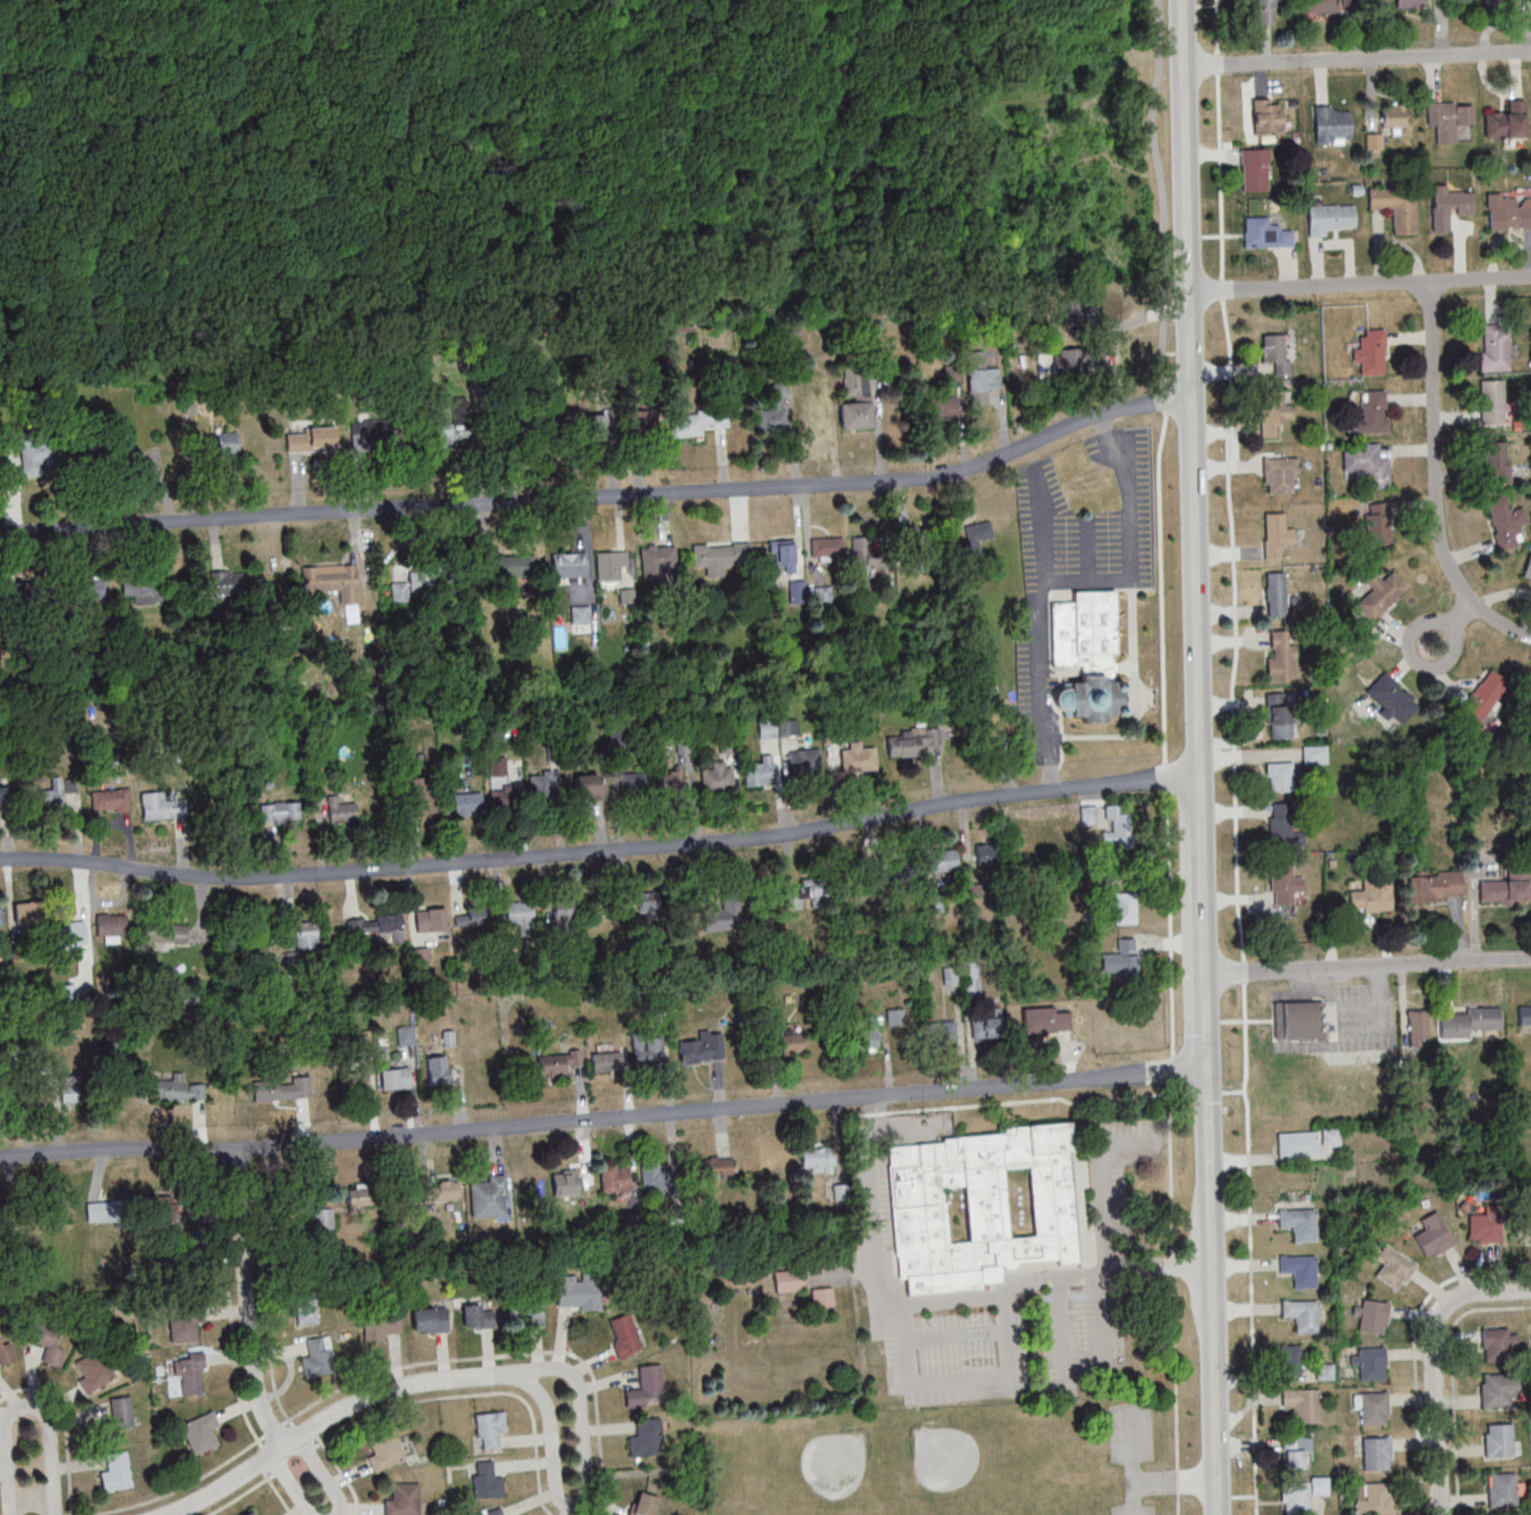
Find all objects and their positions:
building: (1409, 3)
building: (1331, 5)
building: (1262, 11)
road: (446, 22)
road: (574, 34)
road: (1356, 57)
road: (182, 98)
building: (1266, 116)
building: (1393, 116)
building: (1449, 119)
building: (1507, 121)
building: (1331, 126)
road: (1060, 135)
building: (1374, 141)
building: (1255, 170)
building: (1395, 205)
building: (1448, 206)
road: (733, 208)
building: (1507, 211)
building: (1326, 217)
building: (1264, 235)
road: (1359, 285)
building: (1078, 310)
building: (1492, 347)
building: (1274, 350)
building: (1368, 350)
building: (1074, 359)
building: (981, 378)
building: (856, 383)
road: (1163, 396)
road: (1192, 396)
building: (1493, 402)
building: (943, 407)
building: (1367, 412)
building: (1273, 413)
building: (856, 414)
building: (775, 415)
building: (809, 416)
building: (697, 422)
building: (588, 425)
building: (312, 441)
building: (446, 441)
building: (369, 443)
building: (224, 444)
building: (140, 454)
building: (38, 455)
building: (91, 455)
building: (1497, 460)
building: (1364, 463)
building: (1279, 475)
road: (1434, 480)
building: (1089, 487)
road: (602, 496)
building: (1505, 522)
building: (1379, 529)
building: (1277, 534)
road: (1127, 535)
building: (971, 542)
building: (827, 547)
road: (1085, 549)
building: (917, 553)
building: (783, 554)
building: (719, 556)
building: (865, 556)
building: (656, 560)
building: (511, 566)
building: (570, 566)
building: (1526, 566)
building: (610, 567)
building: (285, 574)
building: (429, 574)
building: (227, 581)
building: (343, 581)
building: (89, 588)
building: (797, 589)
building: (17, 590)
building: (142, 590)
building: (1275, 594)
building: (1378, 596)
building: (579, 614)
road: (1450, 623)
road: (1033, 629)
building: (1281, 655)
building: (1088, 656)
building: (365, 684)
building: (993, 691)
building: (1484, 695)
building: (7, 697)
building: (1388, 697)
building: (1282, 715)
building: (997, 726)
building: (768, 728)
building: (932, 739)
building: (905, 744)
building: (1315, 754)
road: (1231, 757)
building: (858, 758)
building: (804, 762)
building: (497, 766)
building: (449, 768)
building: (760, 772)
building: (1280, 776)
building: (717, 777)
building: (670, 780)
building: (635, 781)
building: (540, 785)
building: (590, 786)
building: (54, 793)
building: (510, 794)
building: (419, 796)
building: (111, 800)
building: (467, 804)
building: (162, 806)
building: (340, 810)
building: (279, 811)
building: (1284, 825)
building: (1118, 826)
road: (601, 851)
building: (986, 854)
building: (941, 859)
building: (1284, 883)
building: (1435, 886)
building: (1506, 887)
building: (816, 894)
building: (1371, 897)
building: (794, 900)
building: (935, 903)
building: (651, 906)
building: (1123, 907)
building: (1, 915)
building: (519, 915)
building: (471, 916)
building: (562, 916)
building: (722, 916)
road: (1358, 917)
building: (431, 920)
road: (1201, 920)
building: (112, 925)
building: (390, 925)
building: (360, 928)
building: (165, 932)
building: (71, 933)
building: (307, 934)
building: (257, 942)
building: (421, 956)
building: (1123, 959)
road: (1366, 965)
building: (951, 977)
building: (973, 982)
building: (896, 1017)
building: (1523, 1017)
building: (1047, 1020)
building: (1299, 1020)
building: (1466, 1021)
building: (990, 1024)
building: (1418, 1027)
building: (941, 1032)
building: (865, 1034)
building: (406, 1035)
building: (792, 1041)
building: (702, 1048)
building: (647, 1050)
road: (1204, 1057)
building: (607, 1061)
building: (557, 1064)
traffic signals: (1204, 1066)
building: (438, 1069)
building: (396, 1078)
building: (353, 1081)
building: (76, 1088)
building: (282, 1089)
building: (179, 1090)
building: (42, 1091)
road: (859, 1112)
road: (602, 1117)
road: (1205, 1117)
building: (1330, 1137)
building: (1298, 1144)
building: (816, 1159)
building: (713, 1168)
building: (615, 1179)
building: (656, 1179)
building: (440, 1191)
building: (553, 1192)
road: (1207, 1193)
building: (488, 1196)
building: (362, 1199)
building: (985, 1207)
building: (109, 1211)
building: (171, 1217)
building: (323, 1219)
building: (1296, 1222)
building: (1522, 1228)
building: (1485, 1229)
building: (1434, 1235)
road: (1108, 1263)
building: (1394, 1267)
building: (1296, 1268)
building: (789, 1281)
road: (999, 1292)
building: (581, 1297)
road: (248, 1300)
building: (823, 1301)
building: (526, 1312)
building: (307, 1313)
road: (1002, 1313)
building: (1298, 1313)
building: (478, 1316)
building: (1373, 1316)
building: (430, 1320)
building: (185, 1324)
building: (381, 1328)
building: (625, 1335)
road: (983, 1335)
building: (44, 1337)
building: (1498, 1343)
road: (1413, 1348)
building: (7, 1351)
building: (318, 1357)
building: (1290, 1359)
building: (1370, 1362)
road: (1432, 1363)
road: (1211, 1365)
road: (394, 1367)
building: (93, 1369)
building: (191, 1373)
road: (1450, 1377)
road: (926, 1382)
building: (647, 1388)
building: (1498, 1389)
road: (381, 1391)
building: (1300, 1403)
road: (24, 1404)
building: (1372, 1408)
road: (366, 1415)
building: (116, 1418)
road: (63, 1427)
building: (493, 1430)
building: (201, 1432)
parking lot: (1131, 1435)
building: (647, 1438)
building: (1500, 1440)
road: (534, 1447)
building: (1295, 1450)
building: (385, 1451)
building: (1377, 1453)
park: (953, 1461)
road: (1131, 1462)
building: (117, 1471)
park: (972, 1473)
road: (320, 1474)
park: (812, 1480)
building: (486, 1481)
road: (1172, 1482)
road: (223, 1483)
road: (289, 1483)
building: (1503, 1489)
road: (584, 1490)
building: (1301, 1495)
road: (277, 1496)
road: (235, 1497)
building: (1374, 1499)
building: (405, 1500)
building: (644, 1504)
parking lot: (1134, 1510)
building: (494, 1512)
building: (252, 1513)

